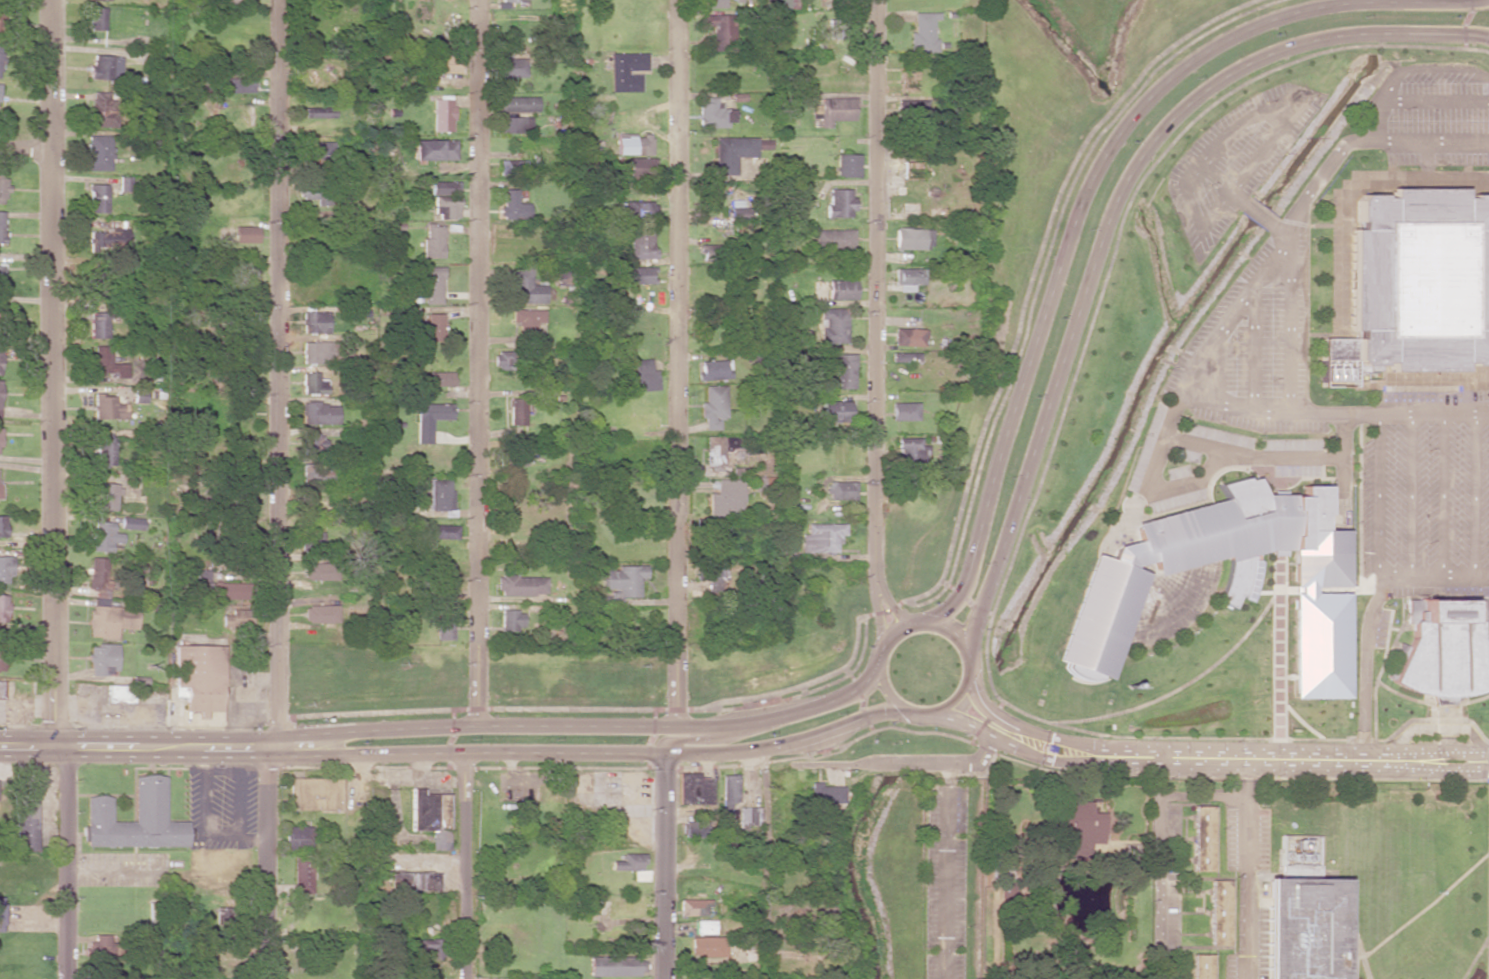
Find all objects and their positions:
building: (101, 0)
building: (235, 1)
building: (508, 1)
building: (712, 3)
building: (786, 4)
building: (97, 18)
building: (1, 22)
river: (1379, 27)
building: (718, 31)
building: (922, 32)
building: (0, 60)
building: (446, 63)
building: (105, 67)
building: (510, 67)
road: (1427, 69)
building: (626, 71)
building: (235, 85)
road: (1435, 102)
building: (519, 104)
building: (102, 109)
building: (835, 110)
building: (319, 112)
building: (713, 114)
building: (442, 115)
parking lot: (1438, 118)
road: (1372, 119)
building: (514, 124)
road: (1241, 125)
road: (1361, 139)
building: (638, 145)
road: (1263, 147)
road: (25, 148)
building: (321, 150)
building: (434, 150)
building: (99, 153)
building: (730, 153)
parking lot: (1235, 160)
building: (847, 165)
building: (511, 167)
building: (639, 167)
building: (911, 170)
road: (1220, 183)
road: (1088, 186)
building: (2, 187)
building: (445, 188)
building: (98, 198)
building: (839, 203)
building: (513, 205)
building: (447, 207)
building: (637, 210)
building: (737, 210)
road: (1258, 212)
road: (1109, 217)
road: (1193, 220)
building: (2, 226)
road: (1280, 229)
building: (245, 234)
building: (107, 238)
building: (834, 239)
building: (912, 239)
building: (432, 242)
building: (640, 246)
building: (706, 253)
road: (876, 273)
building: (2, 275)
building: (637, 275)
building: (909, 276)
building: (100, 283)
building: (433, 285)
building: (1415, 285)
building: (905, 287)
building: (526, 288)
building: (841, 289)
road: (1233, 307)
building: (526, 320)
building: (314, 322)
road: (1290, 322)
building: (99, 325)
building: (832, 325)
building: (430, 330)
building: (909, 337)
road: (1253, 344)
river: (1161, 345)
parking lot: (1254, 346)
building: (316, 352)
building: (906, 357)
building: (0, 361)
road: (477, 362)
building: (107, 363)
road: (678, 363)
building: (715, 370)
building: (842, 370)
road: (281, 373)
road: (52, 374)
building: (642, 376)
building: (437, 379)
building: (313, 384)
road: (999, 385)
building: (0, 392)
building: (713, 406)
building: (109, 408)
building: (905, 411)
building: (516, 412)
building: (834, 412)
road: (1333, 412)
building: (319, 413)
building: (430, 419)
building: (0, 438)
building: (313, 444)
building: (718, 450)
building: (105, 451)
building: (911, 451)
road: (1252, 456)
building: (516, 457)
road: (1343, 462)
building: (318, 475)
road: (1146, 485)
building: (841, 490)
road: (1474, 493)
road: (1379, 494)
road: (1410, 494)
road: (1442, 494)
building: (439, 495)
building: (107, 497)
building: (724, 503)
building: (314, 504)
building: (131, 523)
building: (3, 526)
building: (444, 532)
building: (103, 536)
building: (822, 537)
building: (313, 540)
building: (510, 544)
building: (1201, 562)
building: (5, 567)
building: (319, 571)
building: (97, 573)
building: (445, 574)
road: (1435, 575)
building: (715, 576)
building: (624, 580)
building: (521, 585)
building: (218, 588)
road: (882, 589)
road: (875, 602)
building: (3, 608)
building: (320, 614)
building: (110, 620)
building: (230, 620)
building: (511, 620)
road: (928, 623)
building: (444, 630)
building: (1443, 654)
building: (103, 659)
road: (1364, 662)
road: (879, 665)
building: (198, 678)
building: (1, 689)
building: (119, 693)
road: (888, 695)
road: (955, 699)
road: (496, 708)
road: (916, 711)
river: (944, 720)
road: (589, 725)
road: (452, 731)
road: (652, 731)
road: (701, 739)
road: (139, 748)
road: (596, 752)
road: (1211, 752)
road: (900, 763)
road: (1202, 764)
road: (1323, 778)
building: (694, 789)
building: (315, 794)
building: (826, 795)
road: (1203, 796)
building: (727, 798)
building: (25, 811)
building: (749, 816)
building: (431, 817)
building: (135, 819)
building: (695, 826)
building: (1077, 827)
building: (297, 838)
building: (1203, 838)
building: (629, 862)
road: (57, 863)
road: (266, 863)
road: (764, 864)
road: (1155, 864)
road: (663, 865)
road: (465, 866)
road: (1249, 866)
road: (946, 871)
river: (848, 872)
building: (303, 874)
road: (1488, 879)
building: (414, 881)
parking lot: (945, 881)
parking lot: (1246, 885)
parking lot: (1171, 892)
building: (694, 907)
building: (1, 913)
building: (1219, 913)
building: (223, 917)
building: (1301, 925)
building: (705, 927)
building: (104, 947)
building: (707, 947)
building: (427, 949)
building: (613, 966)
building: (1201, 967)

